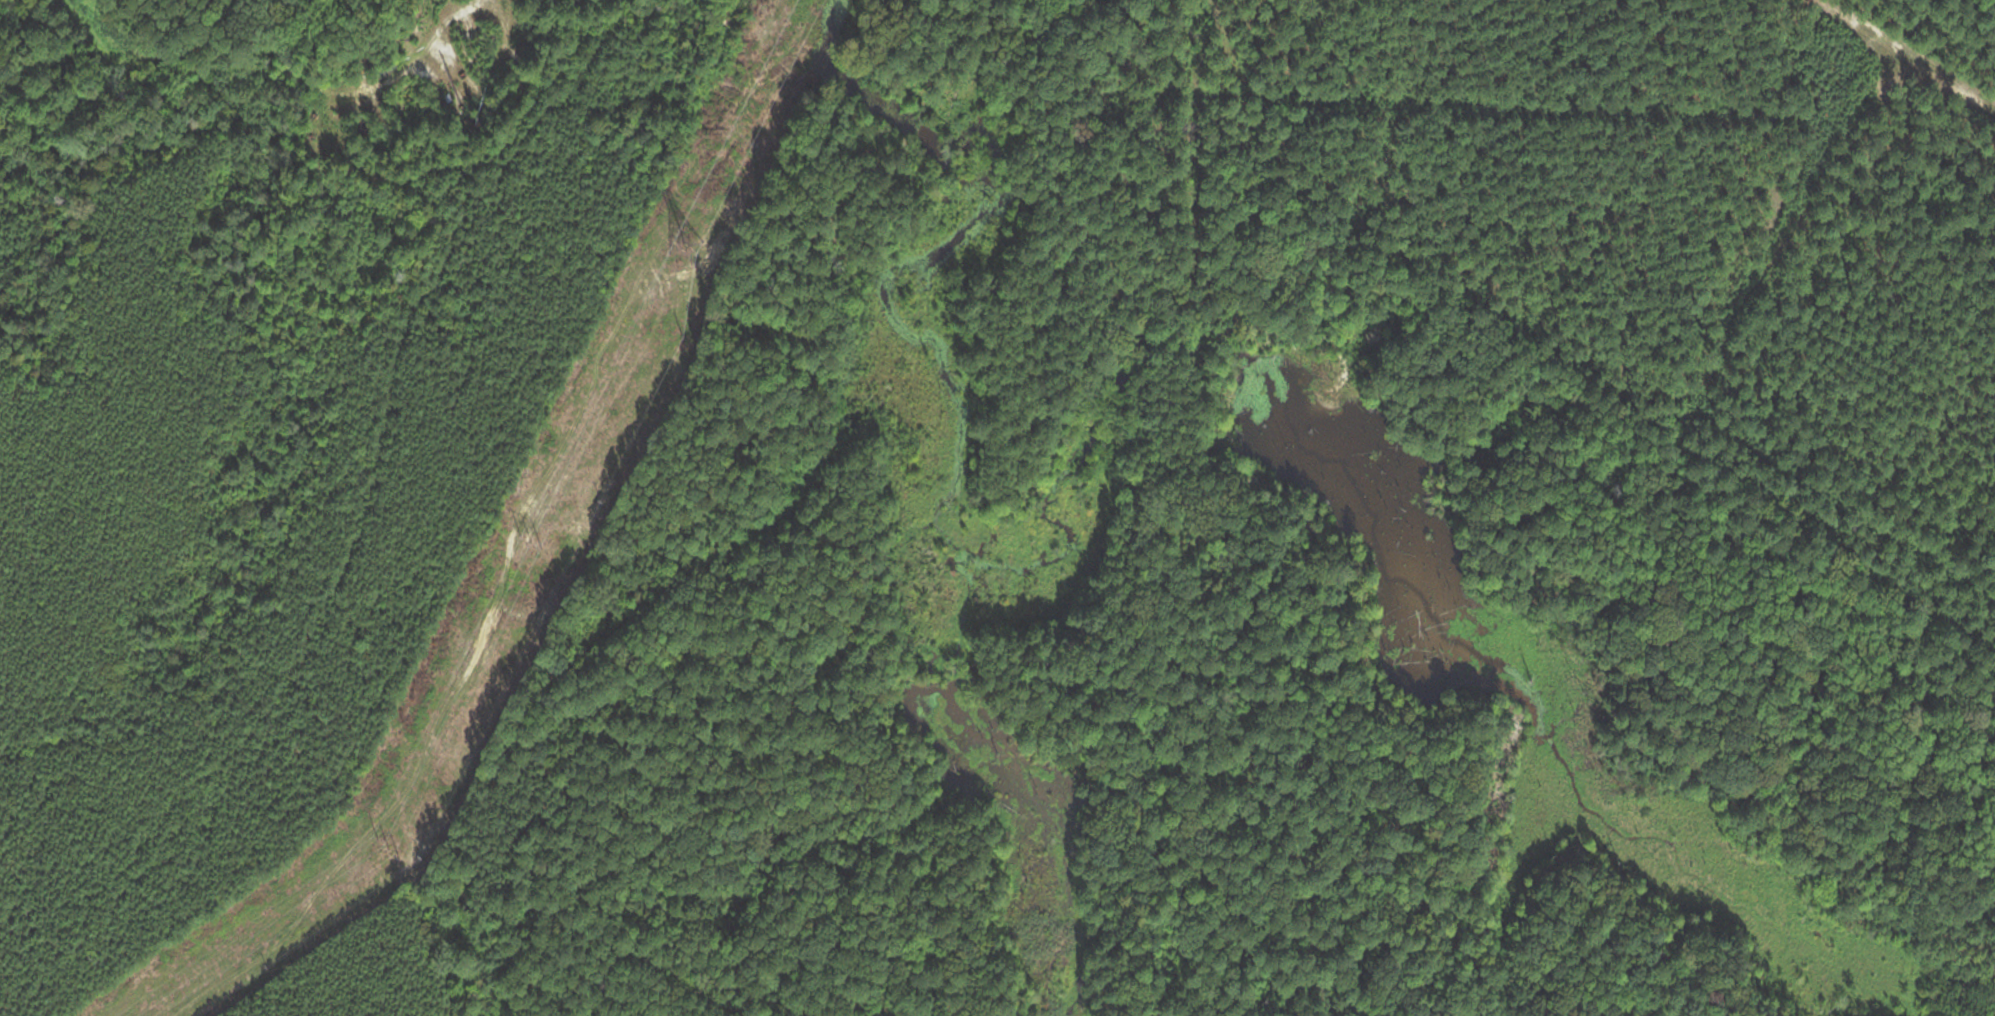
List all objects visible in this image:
power tower: (691, 250)
power tower: (534, 544)
power tower: (389, 850)

